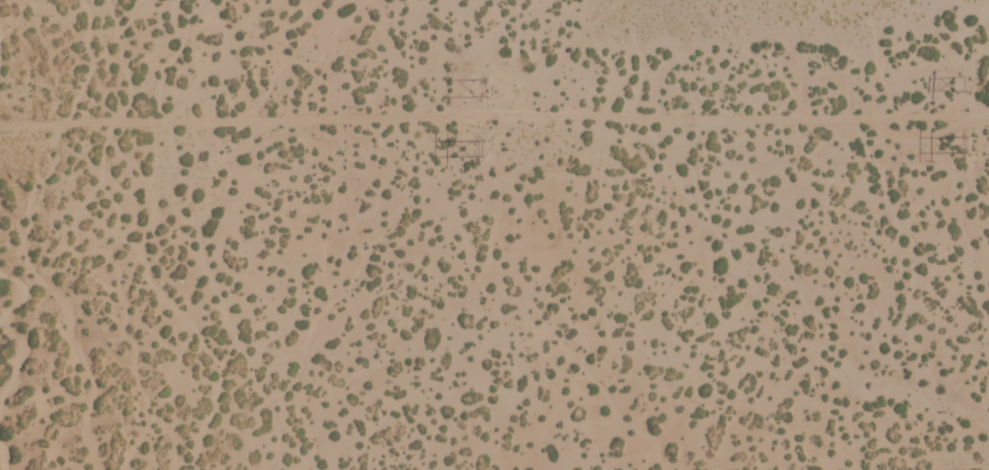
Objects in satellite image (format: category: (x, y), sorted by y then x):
road: (978, 60)
road: (169, 66)
power tower: (964, 80)
power tower: (481, 85)
power tower: (964, 142)
power tower: (482, 144)

